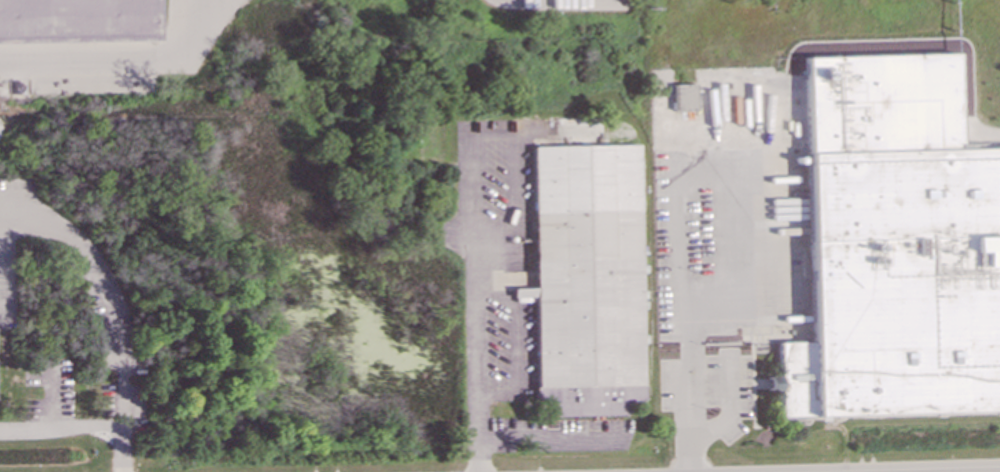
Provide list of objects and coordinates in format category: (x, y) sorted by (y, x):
road: (121, 54)
building: (682, 97)
road: (716, 175)
building: (894, 246)
building: (585, 277)
road: (106, 285)
road: (474, 314)
road: (684, 380)
road: (82, 428)
road: (550, 440)

